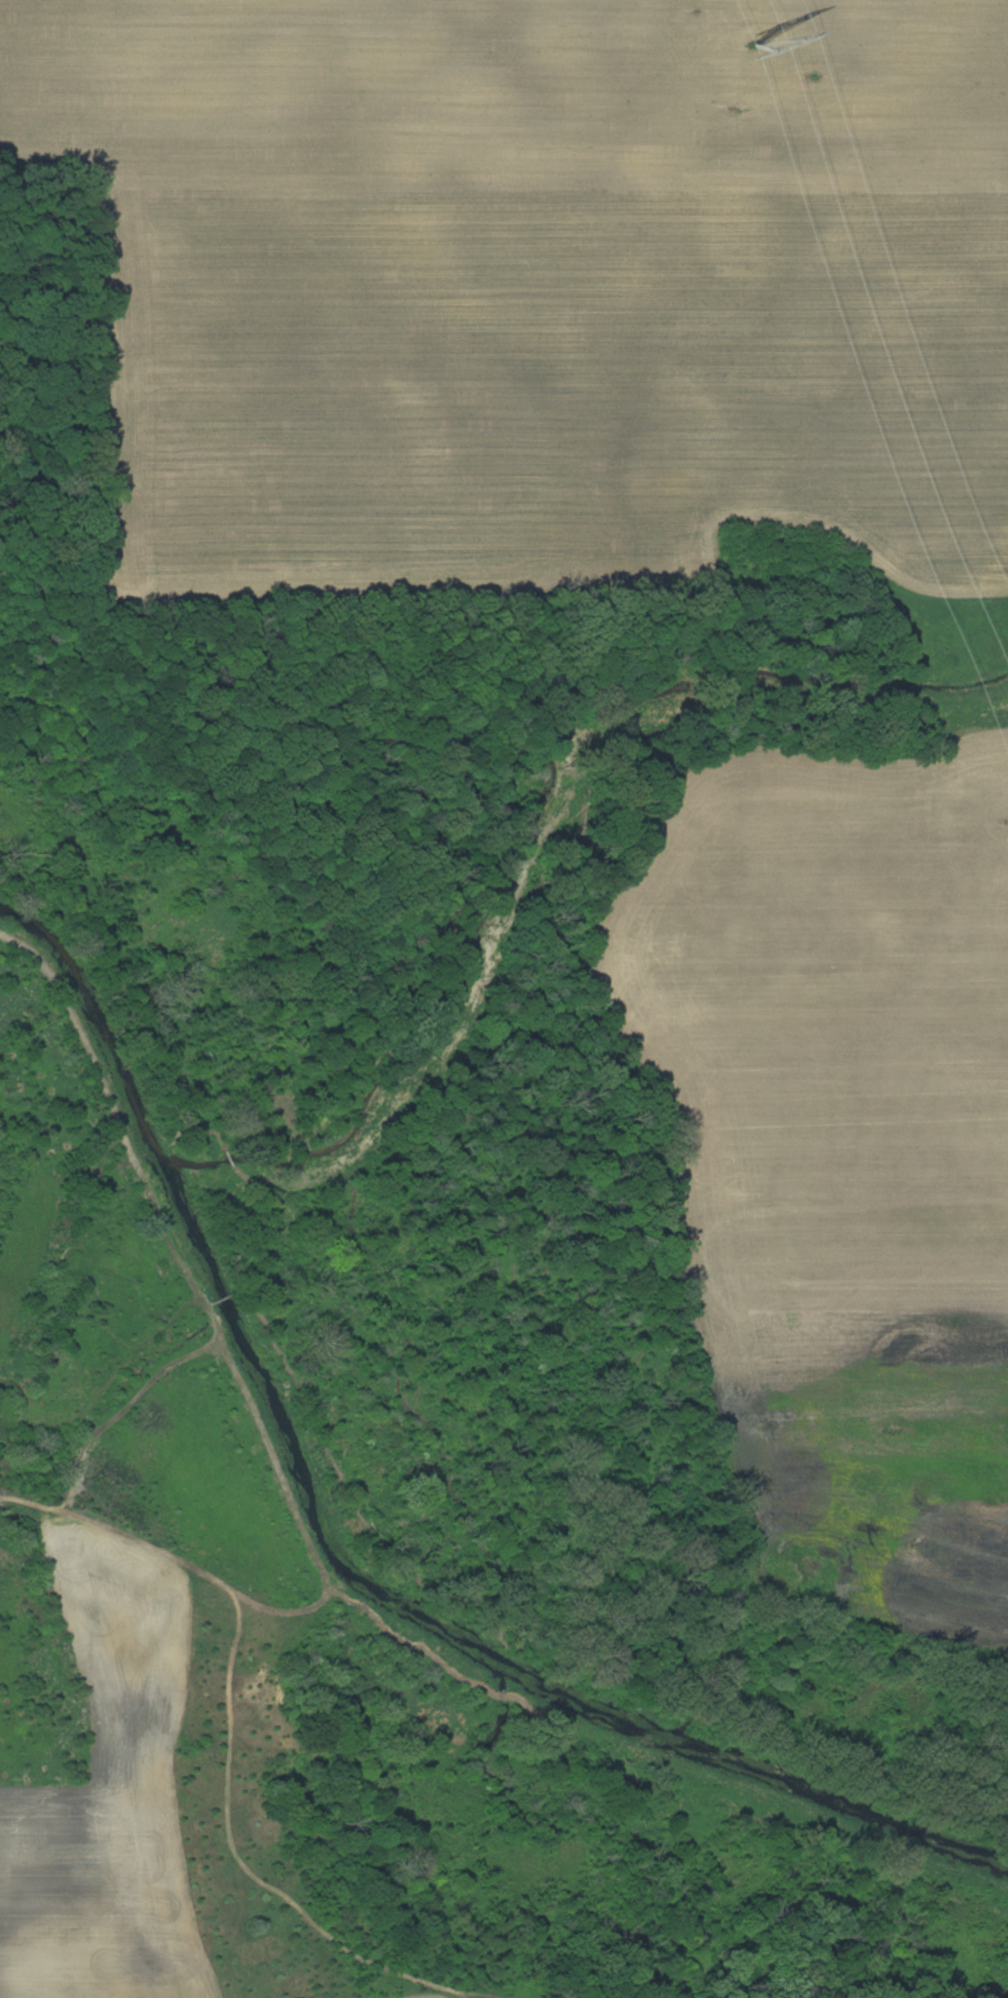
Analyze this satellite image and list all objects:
power tower: (744, 44)

